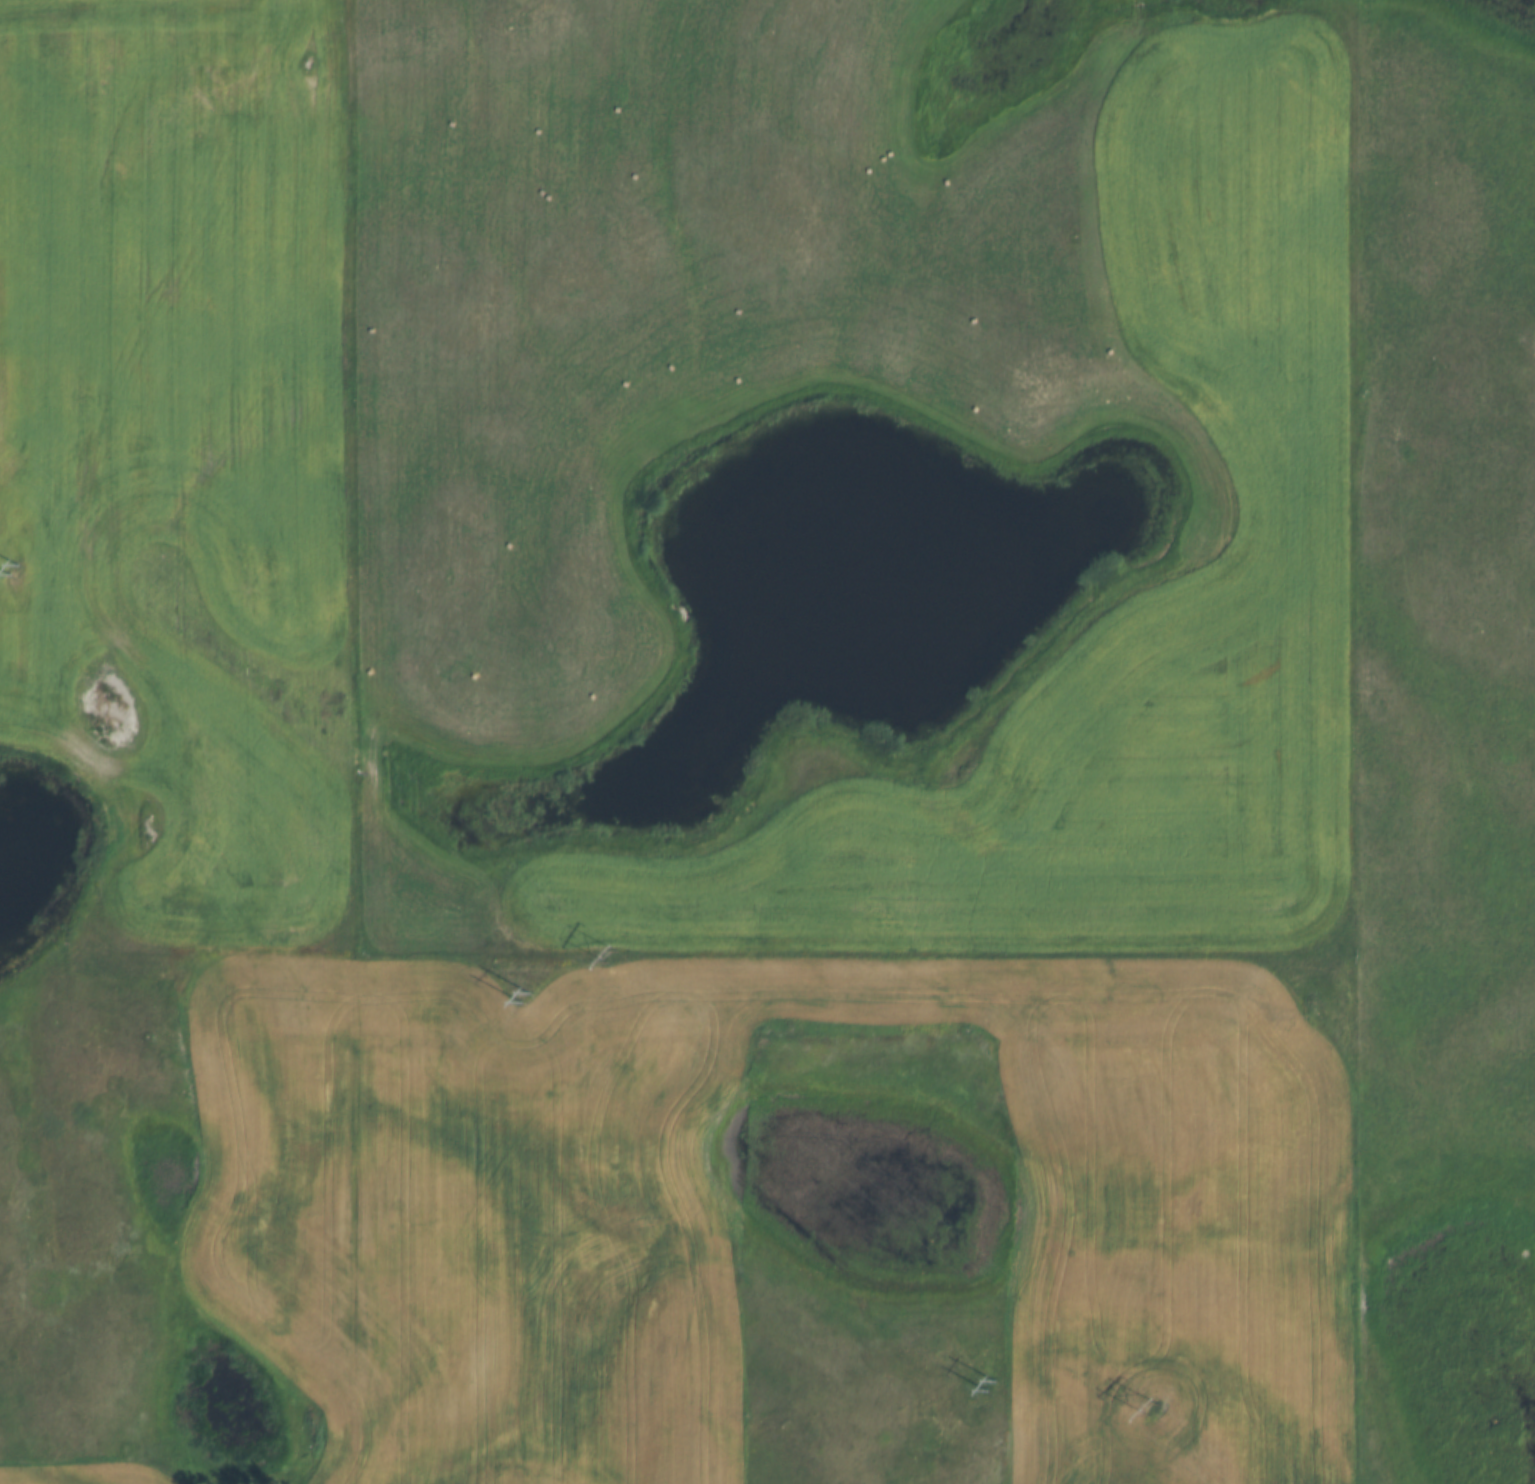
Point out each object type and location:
road: (349, 743)
power tower: (608, 962)
power tower: (1156, 1399)

